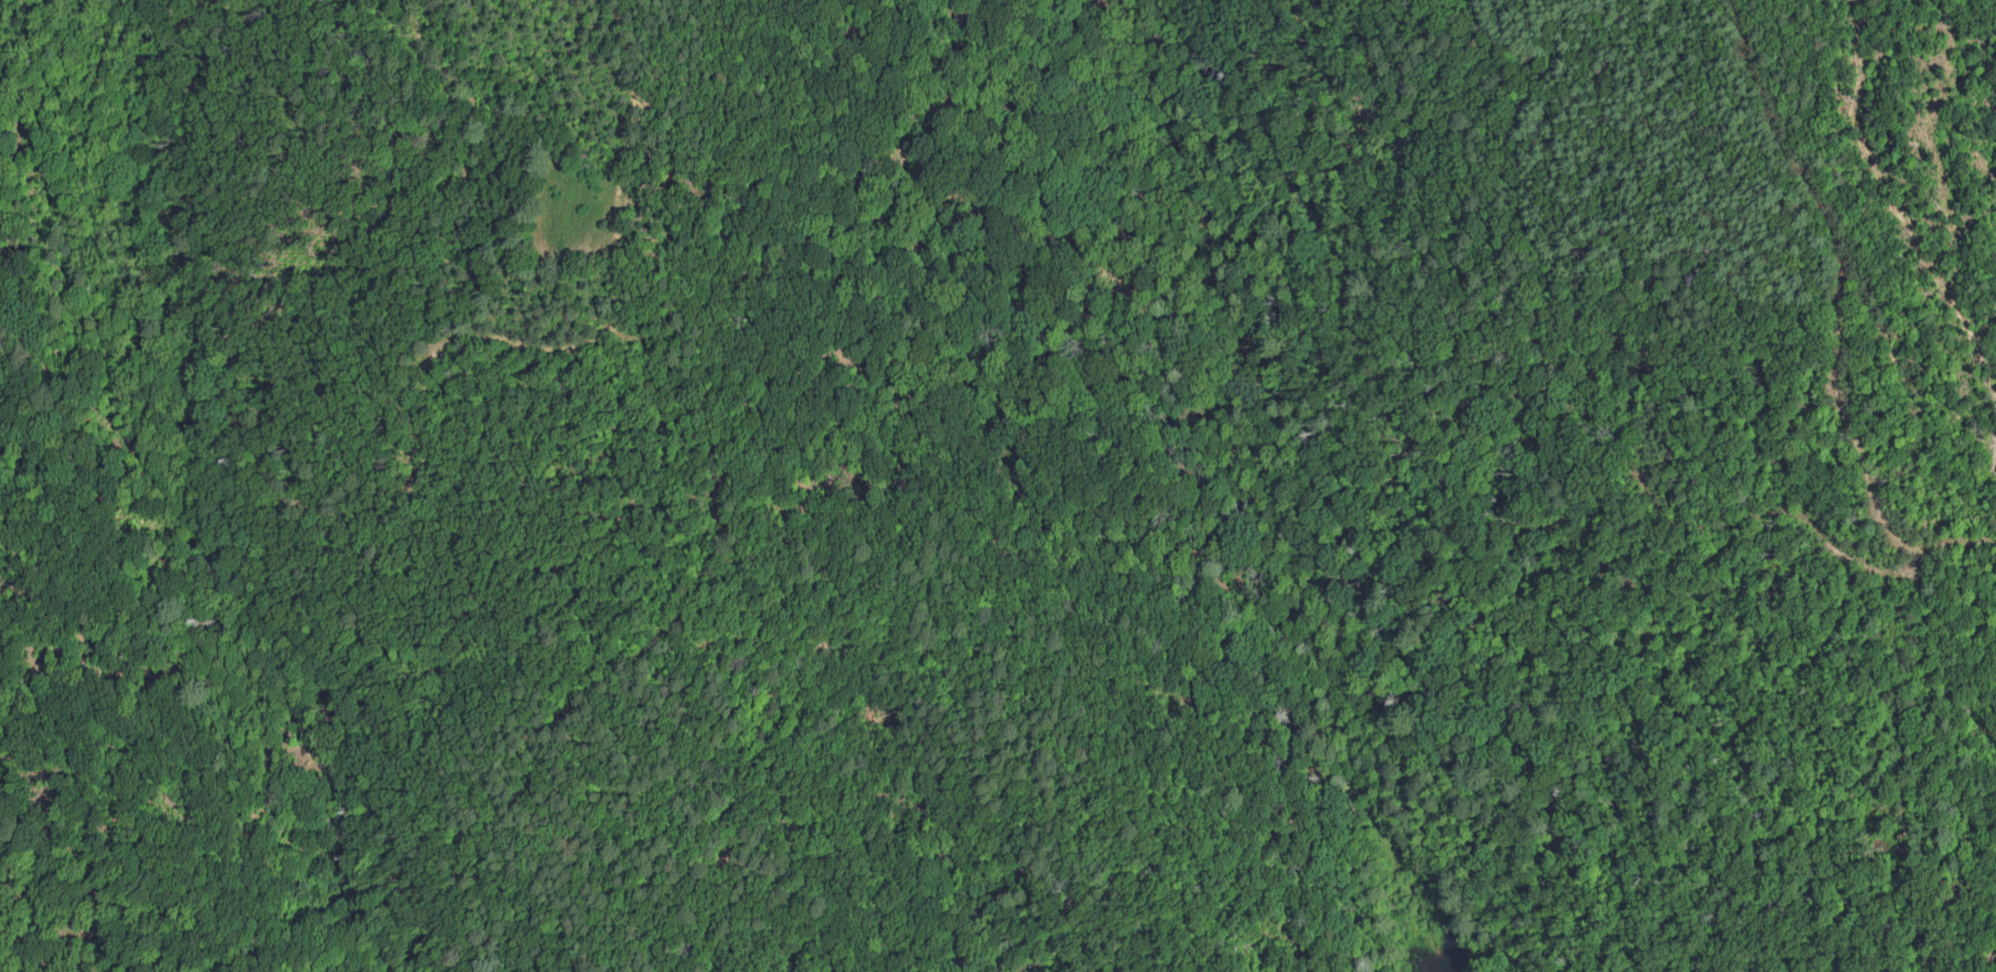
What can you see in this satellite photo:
road: (1841, 282)

